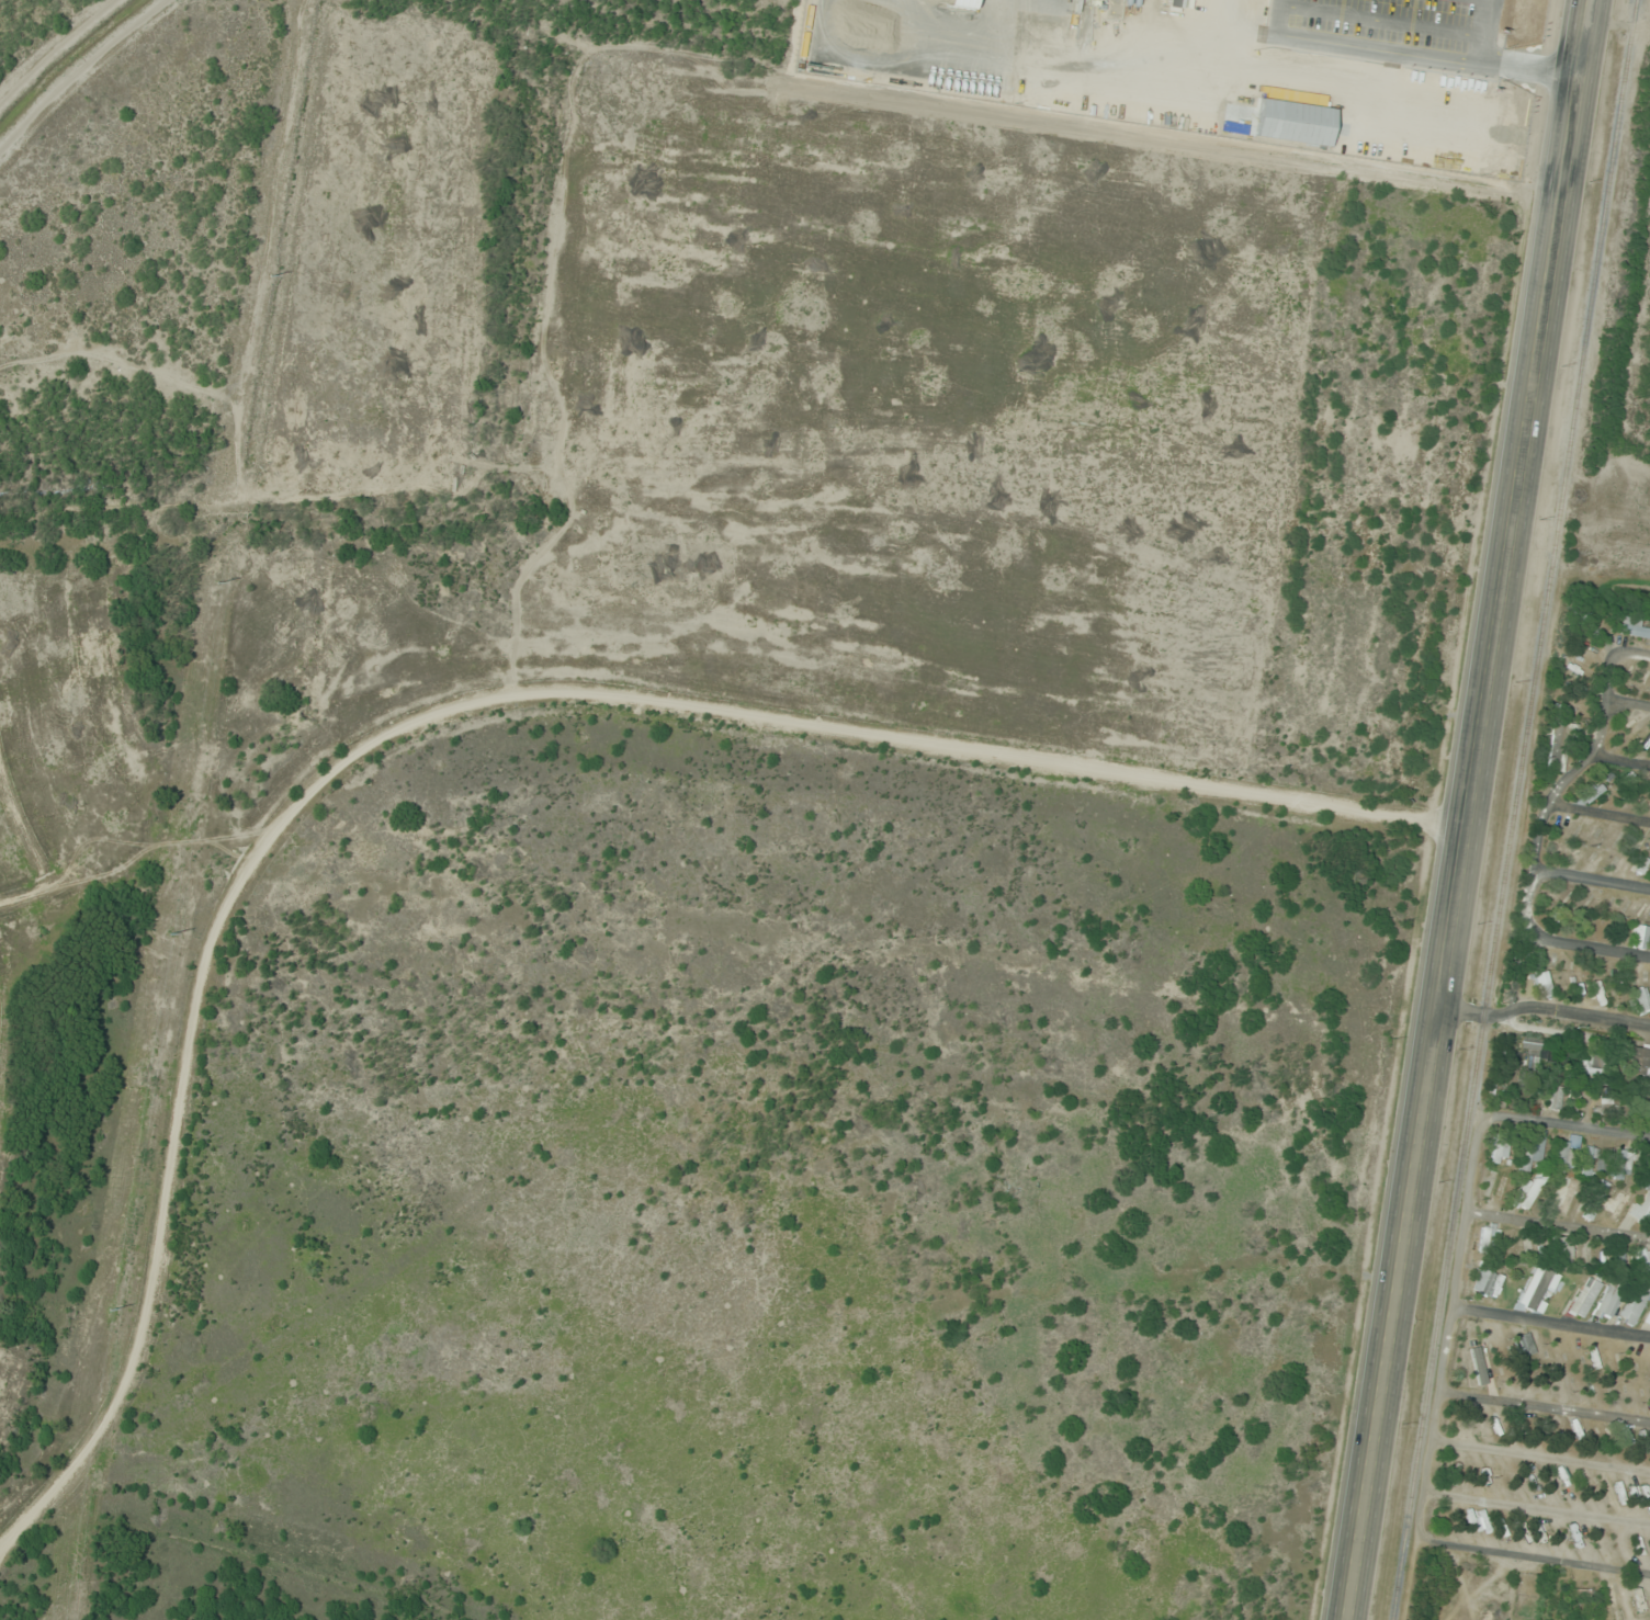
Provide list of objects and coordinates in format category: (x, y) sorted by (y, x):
building: (1632, 627)
road: (1612, 656)
road: (1626, 704)
building: (1559, 746)
road: (1619, 756)
building: (1590, 792)
road: (1602, 807)
road: (1470, 809)
railway: (1514, 809)
road: (1550, 809)
building: (1571, 829)
building: (1614, 838)
building: (1637, 839)
road: (1593, 877)
building: (1640, 936)
road: (1590, 941)
building: (1541, 984)
building: (1578, 988)
building: (1638, 1000)
road: (1548, 1008)
building: (1529, 1050)
building: (1632, 1062)
building: (1587, 1065)
building: (1555, 1097)
building: (1573, 1100)
building: (1601, 1110)
building: (1647, 1117)
road: (1566, 1119)
building: (1500, 1145)
building: (1532, 1148)
building: (1566, 1154)
building: (1586, 1162)
building: (1621, 1164)
building: (1528, 1190)
building: (1564, 1196)
building: (1643, 1198)
building: (1593, 1199)
building: (1617, 1203)
road: (1558, 1222)
building: (1489, 1238)
building: (1524, 1244)
building: (1560, 1250)
building: (1582, 1254)
building: (1603, 1254)
building: (1618, 1257)
building: (1642, 1265)
building: (1483, 1281)
building: (1537, 1288)
building: (1584, 1296)
building: (1608, 1300)
building: (1634, 1304)
road: (1552, 1318)
road: (1451, 1323)
building: (1524, 1345)
building: (1474, 1367)
road: (1546, 1404)
road: (1542, 1455)
road: (1537, 1505)
road: (1535, 1554)

